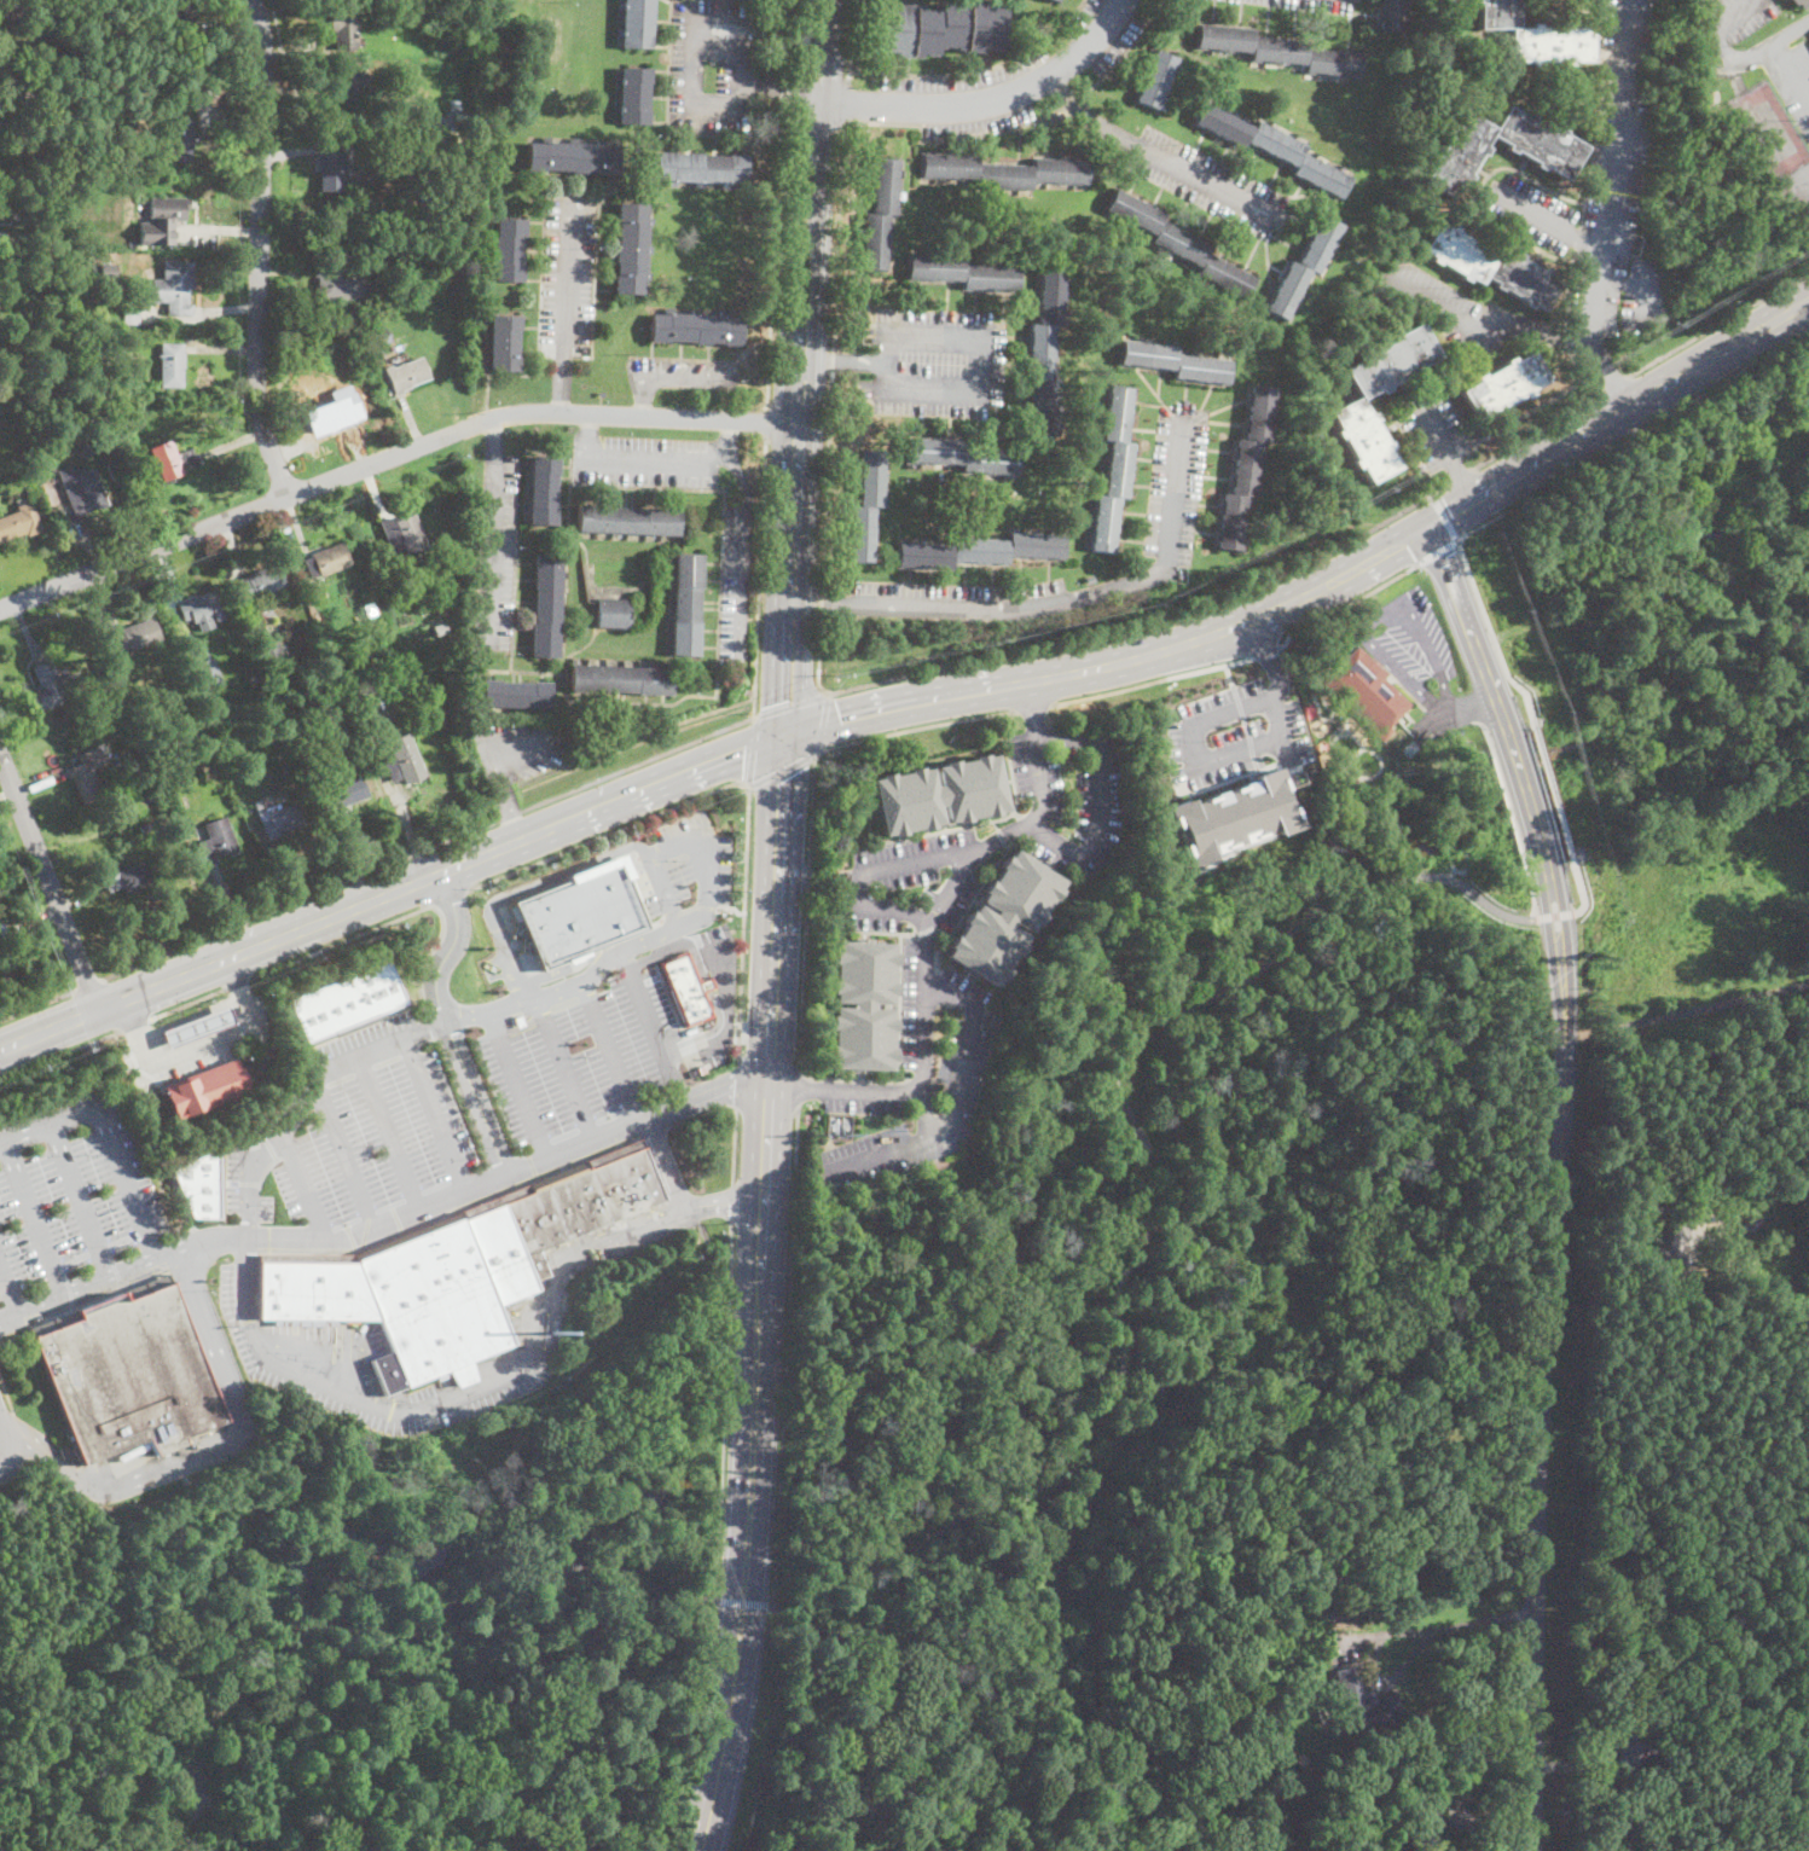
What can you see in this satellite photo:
building: (1055, 0)
building: (1063, 0)
parking lot: (1358, 0)
building: (1802, 2)
parking lot: (1311, 5)
road: (1712, 10)
building: (1392, 14)
parking lot: (1743, 14)
building: (176, 18)
building: (636, 23)
building: (939, 28)
building: (344, 29)
road: (1790, 31)
building: (1536, 36)
road: (851, 41)
road: (686, 46)
building: (463, 50)
building: (1280, 51)
road: (280, 54)
road: (1746, 56)
parking lot: (712, 64)
road: (979, 71)
parking lot: (1008, 79)
building: (1155, 79)
parking lot: (1792, 80)
building: (346, 86)
building: (128, 89)
road: (778, 92)
building: (633, 95)
road: (984, 101)
road: (843, 106)
building: (1591, 111)
building: (1057, 116)
road: (1088, 117)
parking lot: (1622, 121)
building: (126, 124)
building: (437, 135)
building: (180, 138)
building: (21, 139)
building: (1275, 147)
building: (1550, 151)
building: (572, 156)
building: (700, 168)
building: (1004, 170)
building: (332, 172)
road: (1205, 181)
parking lot: (1208, 184)
road: (773, 202)
building: (5, 208)
road: (1611, 208)
building: (168, 209)
road: (796, 209)
road: (819, 210)
parking lot: (1531, 211)
building: (880, 213)
building: (384, 214)
road: (1548, 219)
building: (106, 228)
building: (1179, 244)
building: (631, 248)
road: (260, 249)
building: (508, 249)
building: (1490, 266)
building: (1304, 267)
building: (108, 268)
building: (963, 273)
road: (1805, 274)
parking lot: (568, 275)
road: (567, 277)
road: (1627, 283)
building: (337, 285)
building: (174, 288)
road: (1652, 289)
parking lot: (1596, 294)
parking lot: (1646, 295)
building: (128, 312)
parking lot: (1463, 312)
road: (1462, 315)
road: (1714, 323)
building: (696, 327)
road: (1569, 331)
building: (504, 342)
road: (979, 352)
building: (379, 353)
building: (1046, 353)
road: (831, 360)
parking lot: (933, 360)
building: (1176, 362)
building: (172, 365)
parking lot: (683, 373)
building: (407, 375)
road: (689, 376)
building: (306, 381)
road: (1614, 383)
road: (563, 384)
building: (1503, 384)
road: (638, 395)
building: (335, 400)
building: (1355, 405)
building: (0, 411)
road: (830, 413)
road: (766, 419)
parking lot: (1433, 424)
road: (1433, 425)
road: (1537, 430)
road: (588, 433)
road: (1634, 434)
road: (493, 436)
road: (727, 436)
building: (91, 442)
road: (648, 452)
road: (394, 454)
building: (962, 457)
parking lot: (644, 459)
building: (174, 460)
building: (1247, 464)
building: (116, 466)
building: (1114, 469)
road: (1461, 475)
road: (1465, 478)
parking lot: (1172, 480)
building: (544, 489)
building: (82, 491)
building: (866, 505)
road: (1444, 515)
building: (628, 520)
building: (11, 526)
traffic signals: (1428, 528)
building: (402, 533)
road: (1639, 535)
road: (1408, 536)
road: (492, 542)
parking lot: (497, 549)
building: (980, 550)
road: (1439, 550)
road: (740, 551)
building: (327, 561)
road: (758, 573)
road: (783, 578)
road: (804, 579)
parking lot: (736, 581)
building: (262, 582)
road: (1324, 586)
road: (1088, 593)
parking lot: (957, 598)
road: (817, 600)
road: (1347, 602)
building: (688, 604)
building: (547, 605)
building: (198, 607)
road: (1482, 608)
building: (614, 613)
road: (1152, 626)
road: (1366, 631)
road: (1469, 633)
building: (135, 634)
building: (1350, 643)
road: (1264, 650)
parking lot: (1411, 650)
building: (272, 654)
building: (209, 672)
road: (1229, 674)
building: (254, 678)
building: (621, 679)
road: (1152, 680)
building: (56, 686)
building: (381, 690)
building: (1367, 692)
building: (516, 694)
building: (363, 696)
road: (1525, 697)
traffic signals: (778, 703)
road: (792, 704)
road: (1033, 706)
traffic signals: (842, 718)
road: (823, 721)
road: (915, 726)
road: (1246, 726)
building: (1339, 727)
parking lot: (1234, 733)
road: (476, 737)
building: (227, 738)
road: (1486, 738)
road: (1245, 745)
parking lot: (517, 747)
traffic signals: (746, 749)
road: (752, 749)
road: (1286, 752)
building: (404, 760)
building: (118, 761)
road: (782, 766)
building: (289, 773)
building: (87, 774)
traffic signals: (784, 781)
building: (342, 791)
road: (1552, 791)
building: (939, 793)
road: (613, 803)
road: (1098, 805)
road: (1529, 805)
building: (1227, 814)
road: (1511, 817)
building: (283, 820)
road: (982, 822)
building: (146, 828)
road: (607, 831)
building: (220, 835)
road: (679, 845)
road: (429, 846)
road: (866, 871)
parking lot: (682, 874)
building: (133, 878)
parking lot: (914, 881)
road: (50, 882)
road: (1579, 887)
road: (523, 888)
road: (381, 898)
road: (448, 898)
road: (1532, 899)
road: (731, 907)
road: (777, 909)
road: (805, 910)
building: (584, 912)
road: (1553, 915)
building: (1003, 917)
road: (1726, 917)
road: (743, 923)
building: (5, 928)
road: (662, 930)
road: (927, 936)
road: (340, 941)
road: (677, 944)
road: (451, 948)
road: (427, 954)
road: (210, 967)
parking lot: (516, 967)
road: (563, 967)
road: (234, 973)
road: (237, 982)
road: (708, 983)
road: (89, 985)
building: (688, 988)
road: (538, 994)
road: (187, 1002)
building: (349, 1003)
building: (862, 1004)
road: (37, 1006)
road: (132, 1014)
building: (520, 1022)
road: (134, 1023)
road: (651, 1025)
building: (192, 1027)
gas station: (192, 1027)
road: (50, 1031)
road: (708, 1032)
road: (897, 1045)
road: (207, 1049)
road: (610, 1051)
road: (60, 1054)
road: (566, 1067)
parking lot: (915, 1074)
road: (735, 1084)
road: (518, 1085)
road: (799, 1089)
building: (204, 1090)
road: (307, 1093)
road: (950, 1097)
road: (475, 1099)
parking lot: (457, 1108)
road: (926, 1112)
road: (436, 1115)
road: (686, 1118)
building: (843, 1121)
road: (636, 1122)
road: (108, 1131)
road: (1682, 1133)
road: (390, 1135)
road: (732, 1145)
road: (346, 1155)
road: (665, 1162)
road: (765, 1179)
building: (201, 1184)
road: (305, 1185)
road: (1625, 1188)
road: (1171, 1191)
road: (80, 1197)
road: (731, 1202)
parking lot: (74, 1205)
road: (34, 1215)
road: (381, 1226)
building: (1675, 1251)
road: (122, 1267)
building: (457, 1269)
road: (8, 1287)
road: (787, 1356)
road: (1541, 1359)
parking lot: (363, 1369)
building: (128, 1373)
road: (488, 1380)
road: (6, 1393)
road: (726, 1411)
road: (205, 1451)
road: (746, 1561)
road: (743, 1603)
road: (430, 1619)
road: (1431, 1630)
building: (1264, 1663)
building: (1352, 1701)
building: (1805, 1735)
building: (1631, 1741)
building: (1460, 1824)
building: (1425, 1833)
road: (702, 1847)

